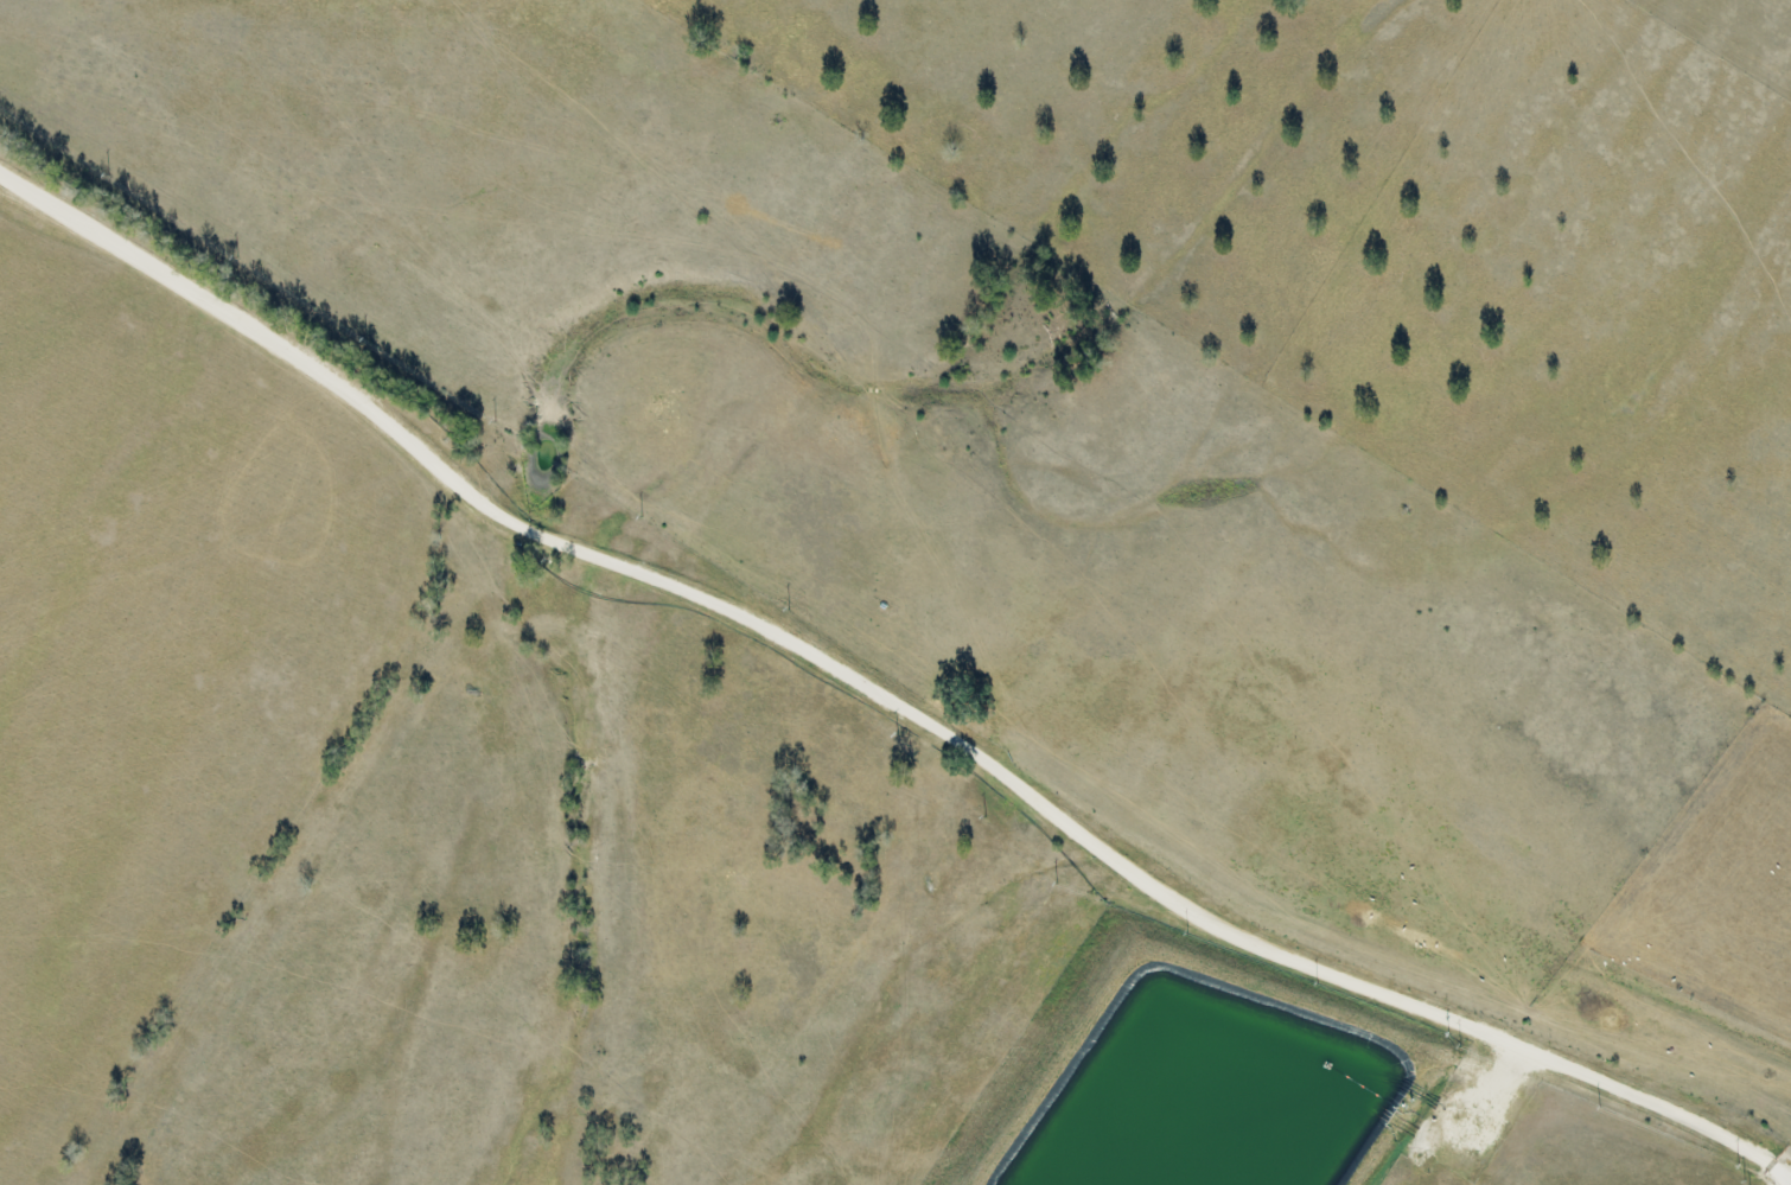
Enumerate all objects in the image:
road: (881, 701)

